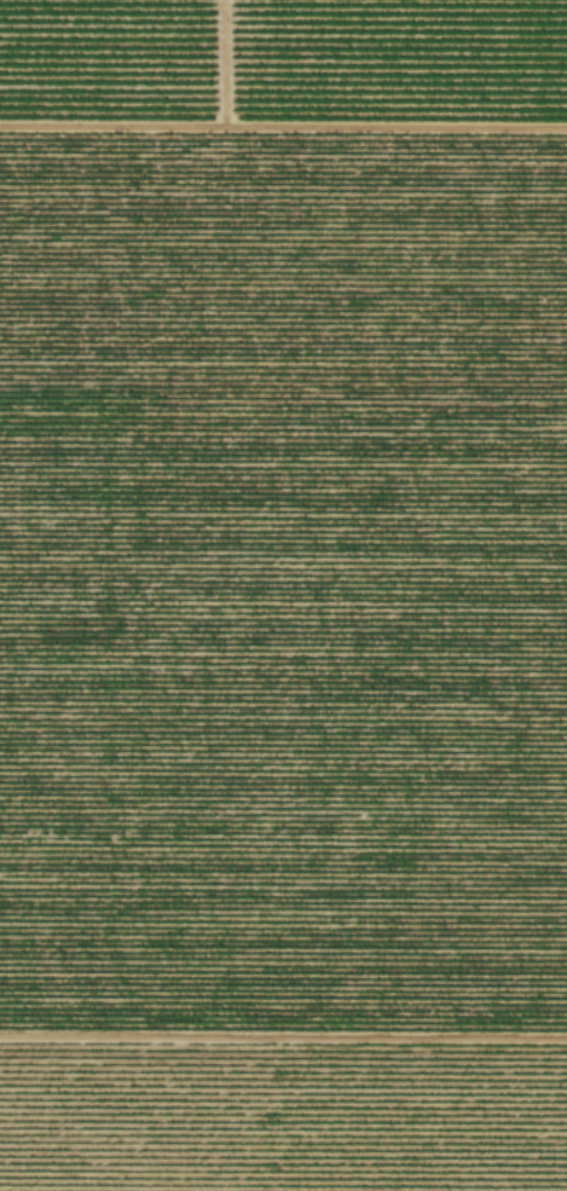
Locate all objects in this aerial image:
crop: (283, 595)

